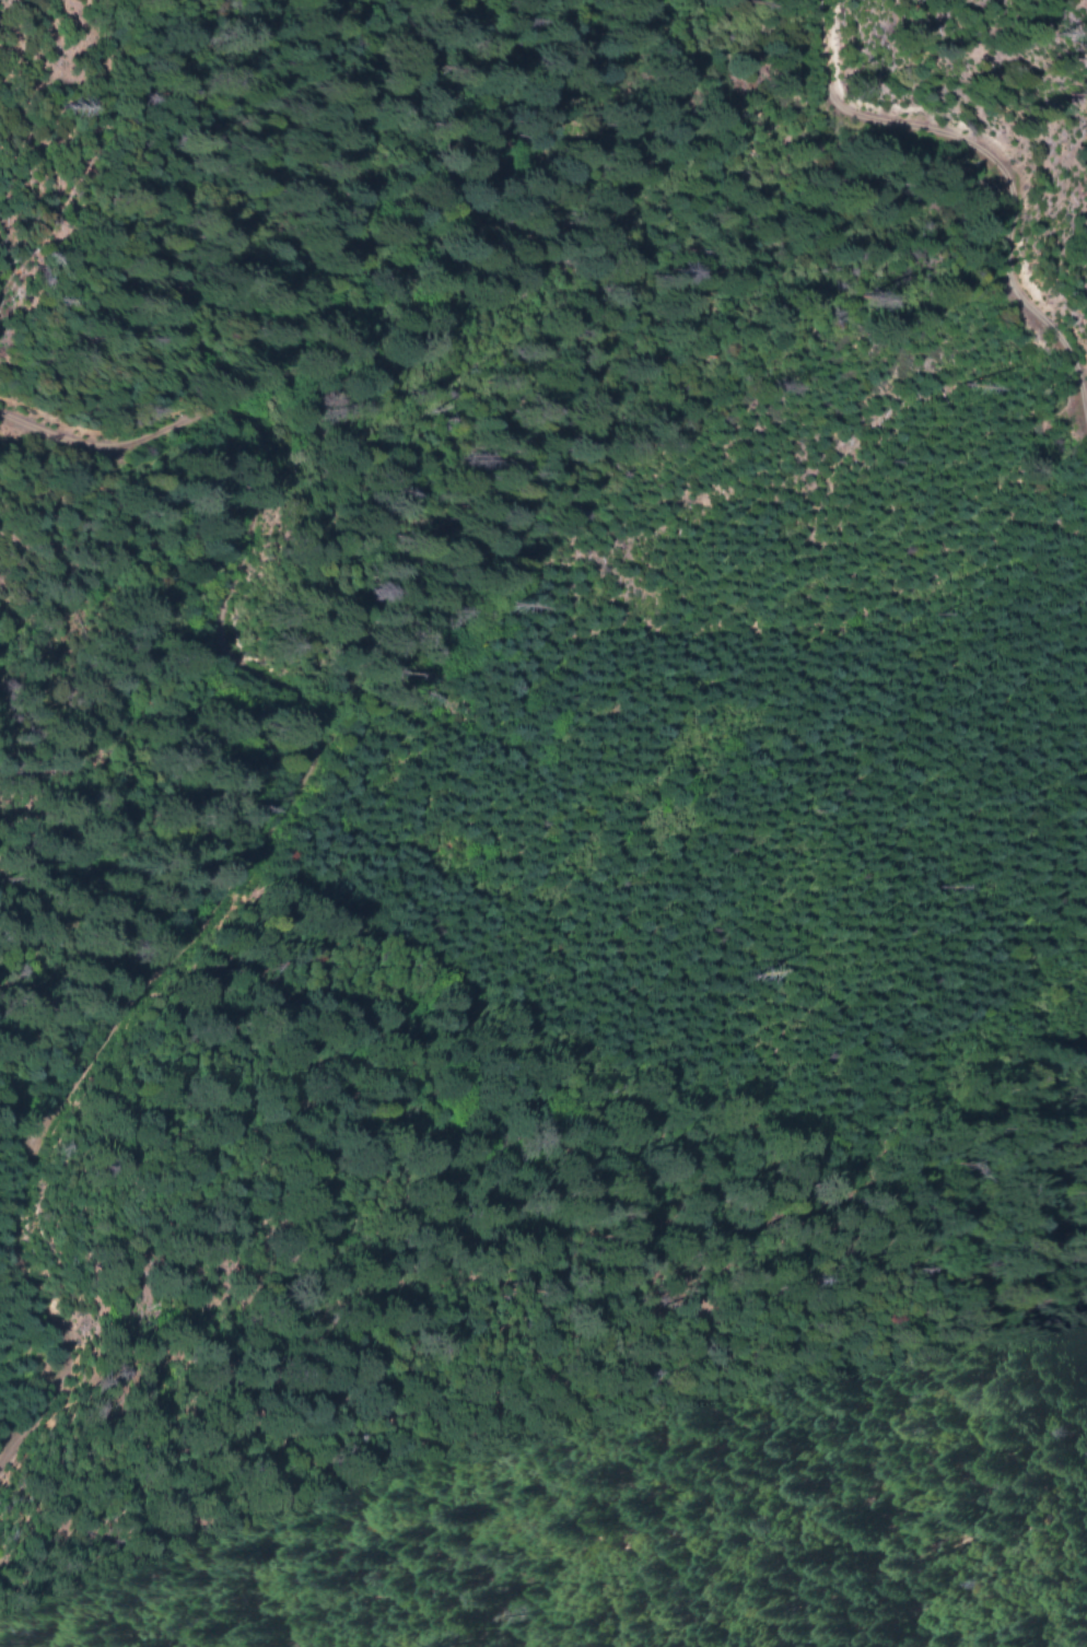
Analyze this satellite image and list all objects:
road: (995, 175)
road: (262, 830)

